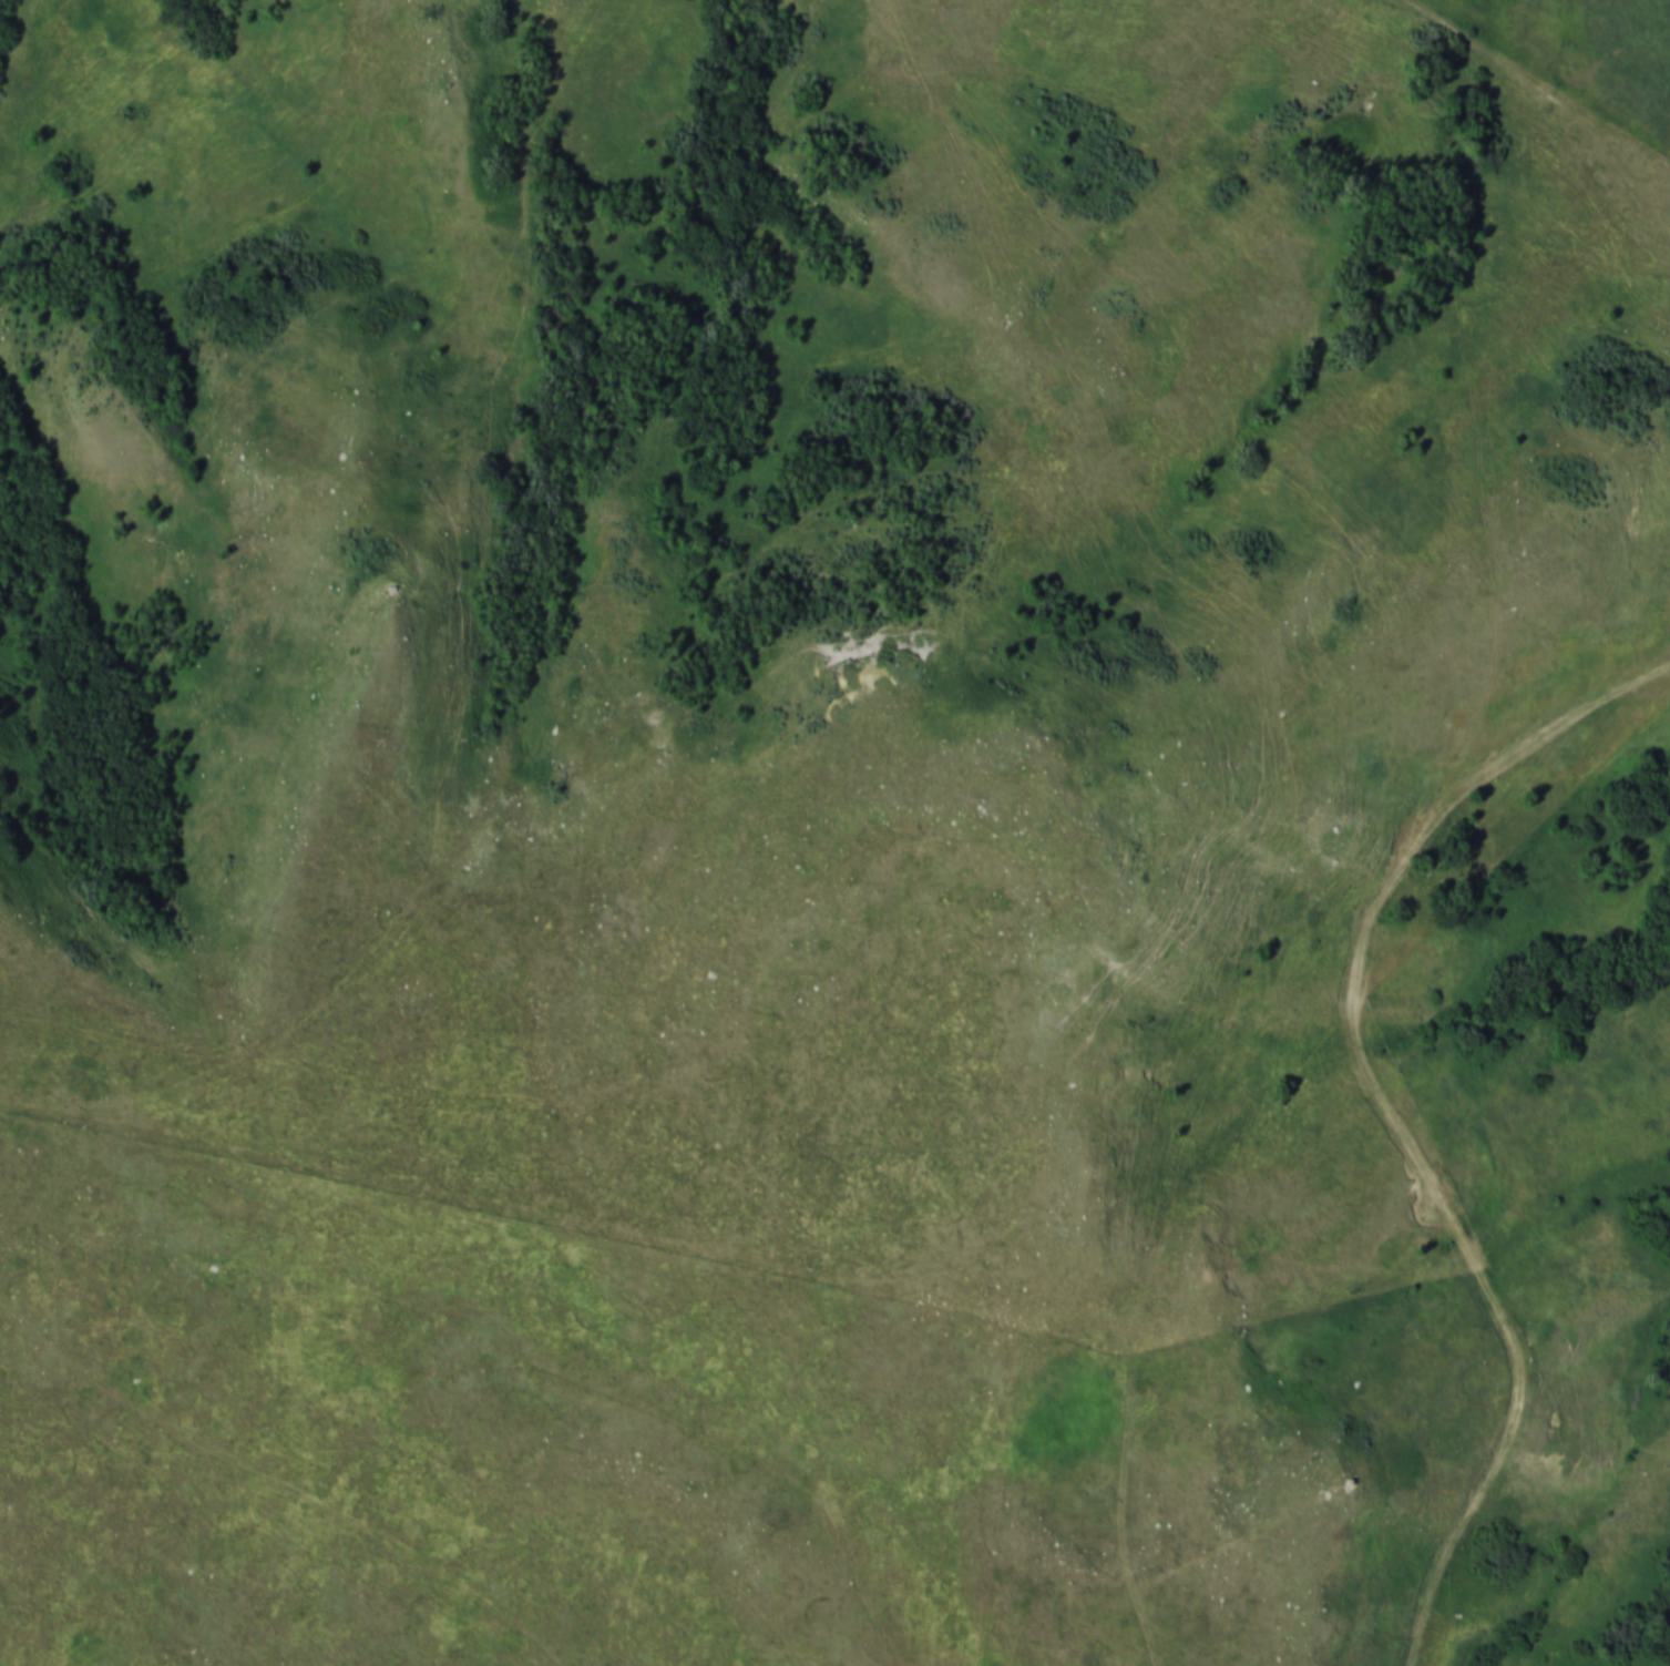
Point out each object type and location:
road: (1604, 90)
road: (1389, 1113)

